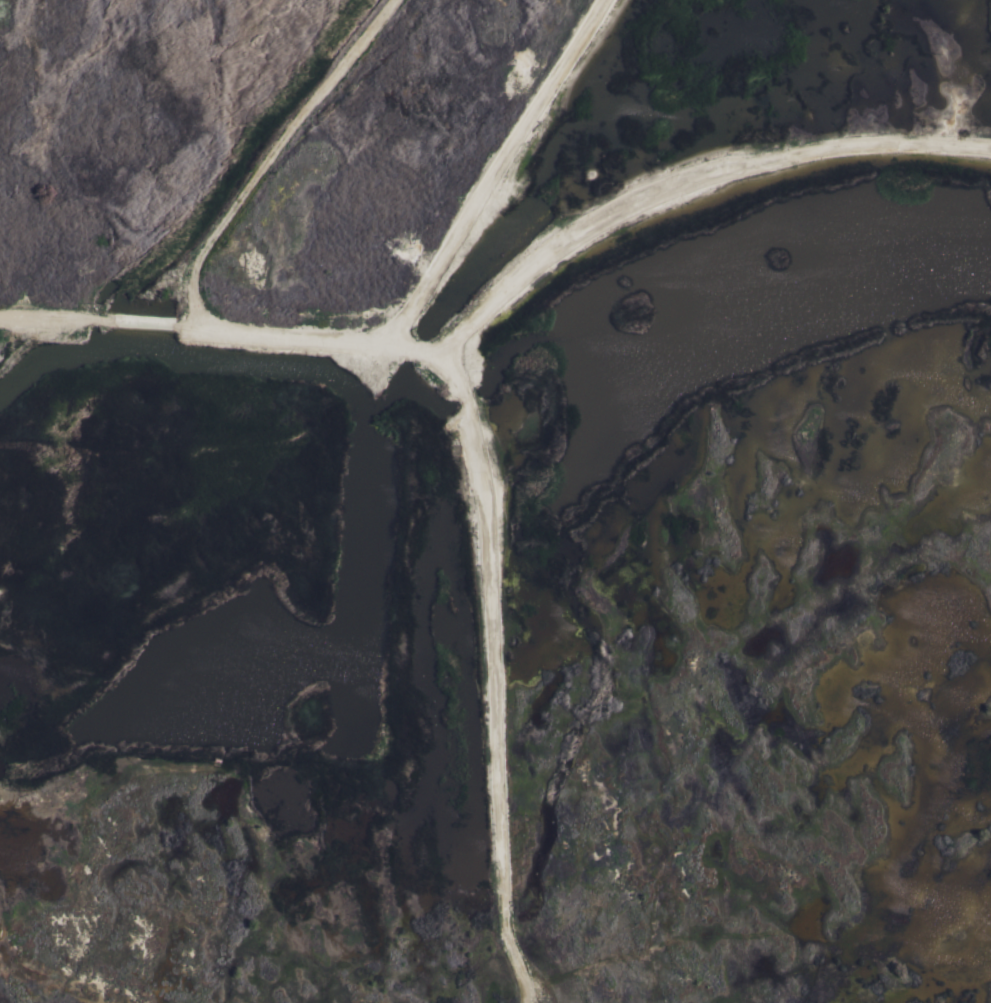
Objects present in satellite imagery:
road: (496, 172)
road: (499, 302)
road: (493, 681)

